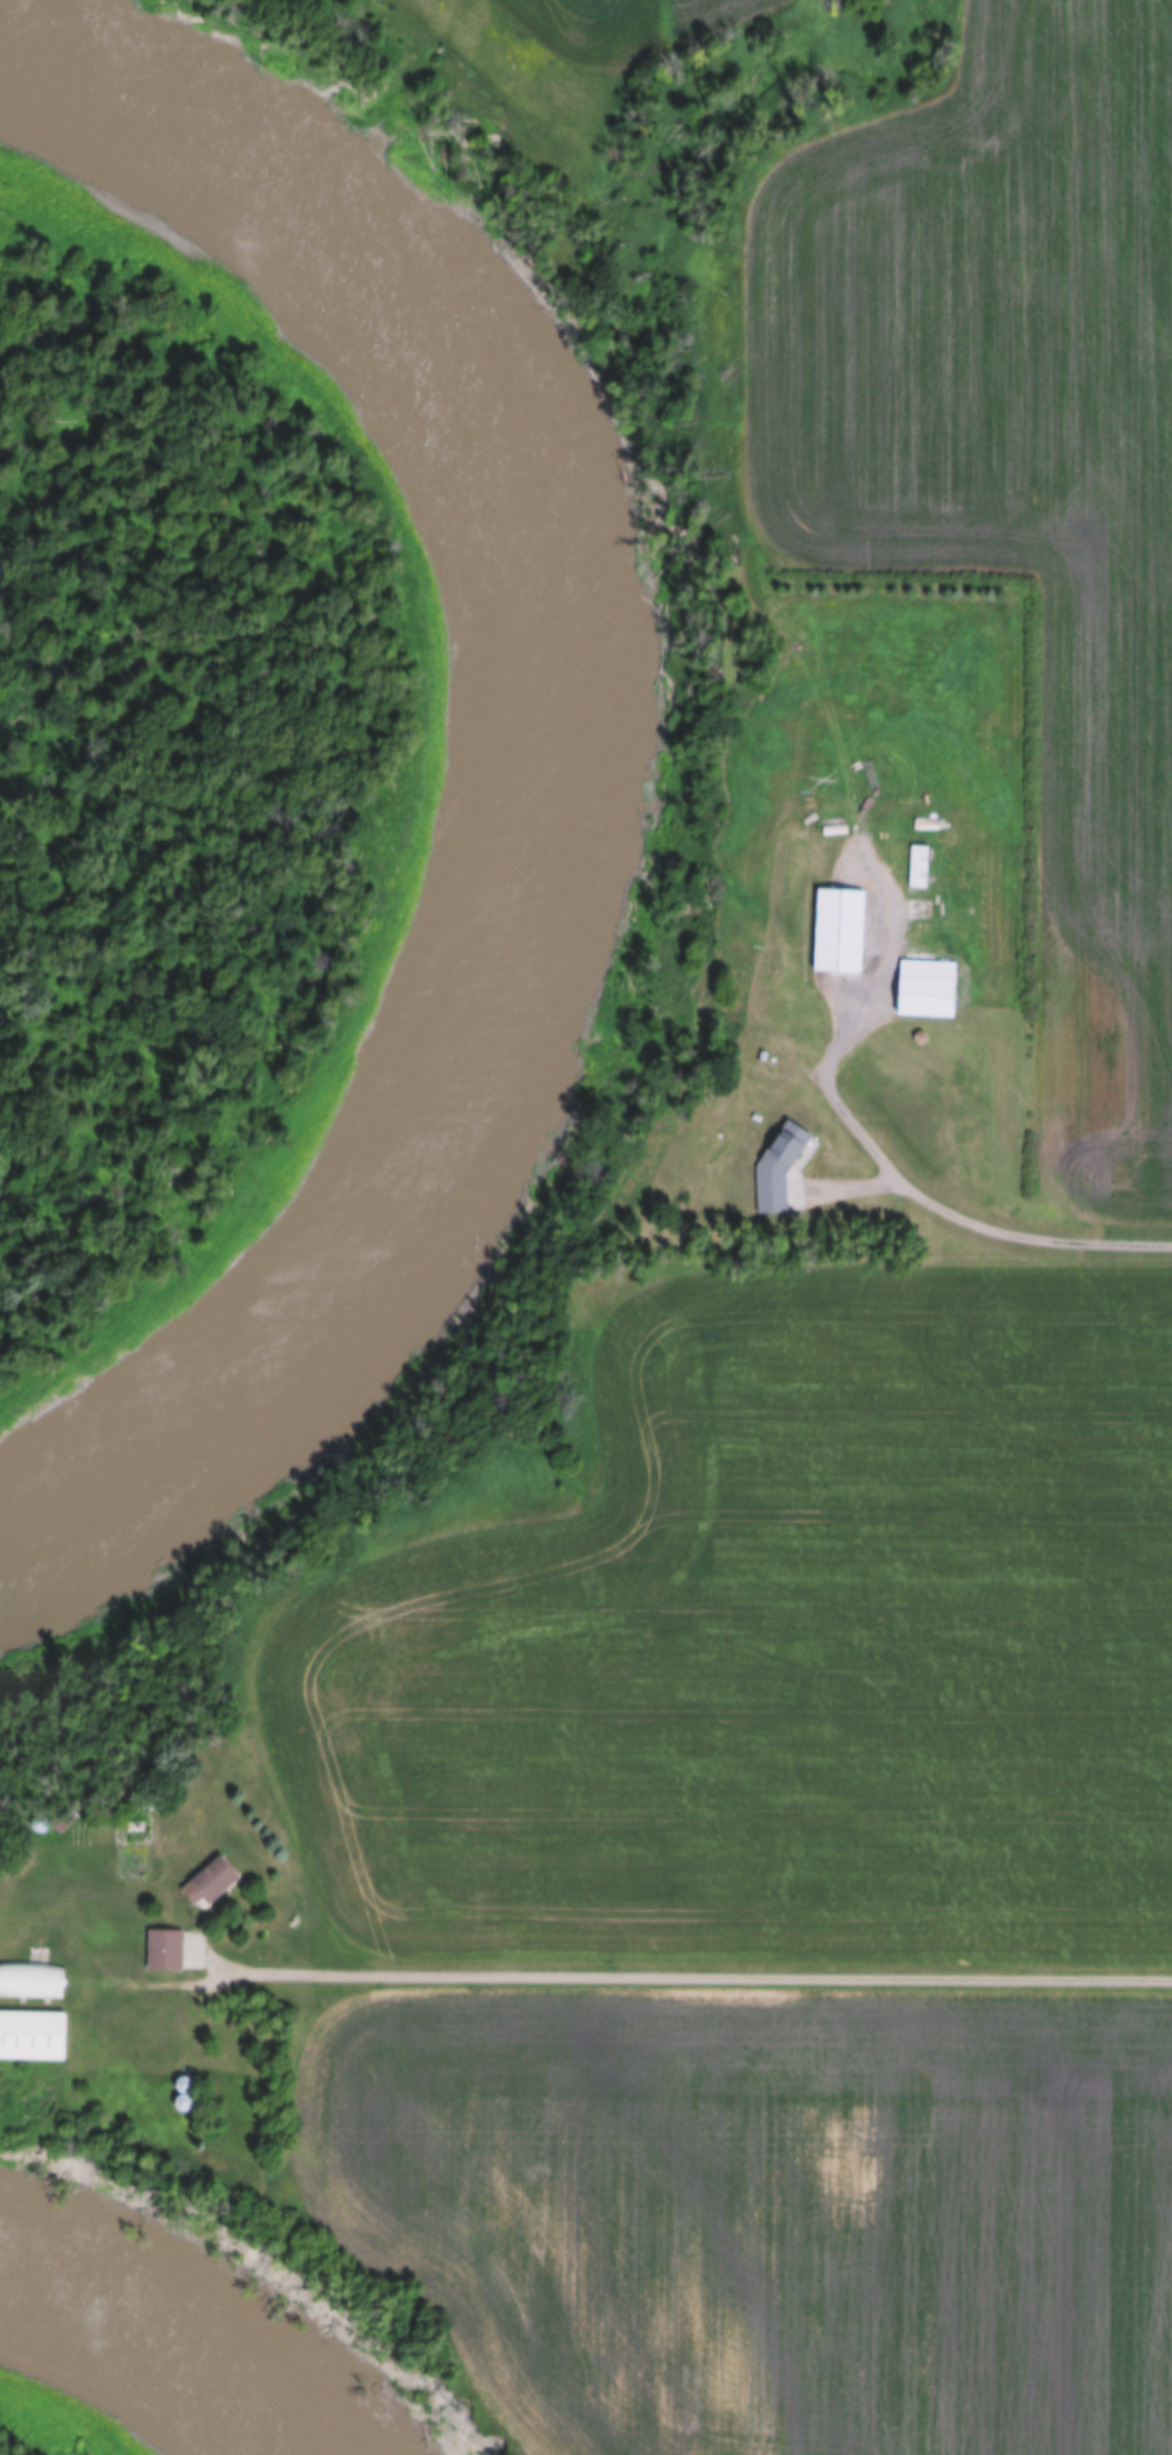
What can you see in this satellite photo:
river: (501, 804)
building: (913, 865)
building: (832, 930)
building: (914, 964)
building: (911, 994)
building: (773, 1150)
road: (961, 1217)
building: (201, 1881)
building: (157, 1948)
road: (753, 1973)
building: (30, 1980)
building: (8, 2033)
river: (144, 2360)

